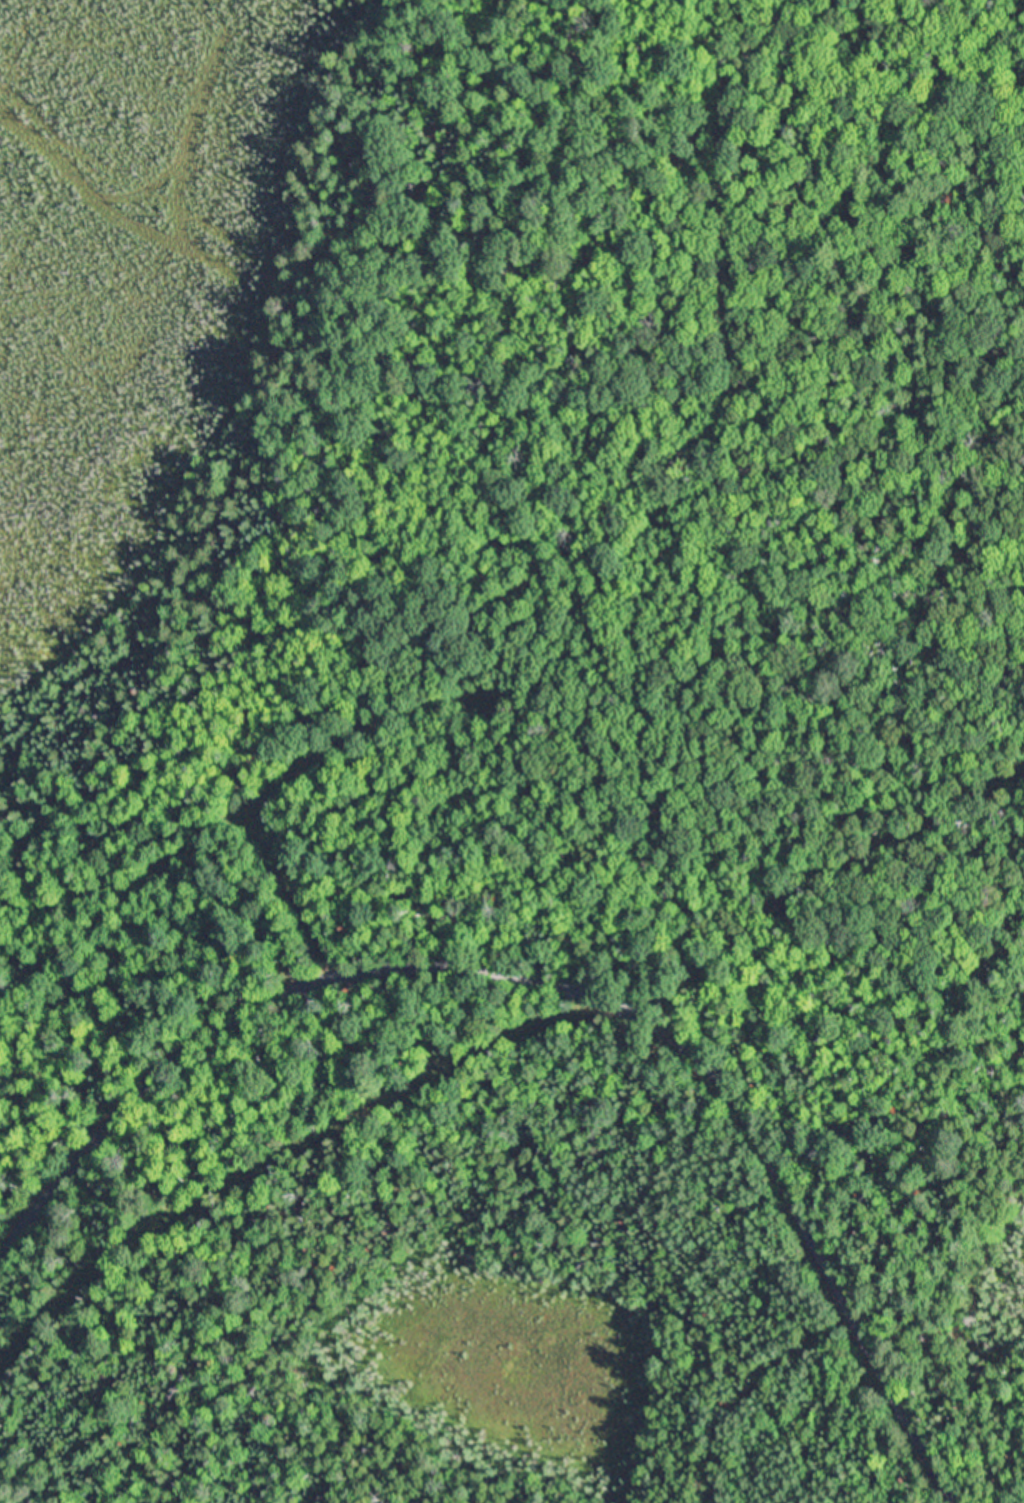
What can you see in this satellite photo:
road: (370, 593)
road: (558, 981)
building: (578, 995)

